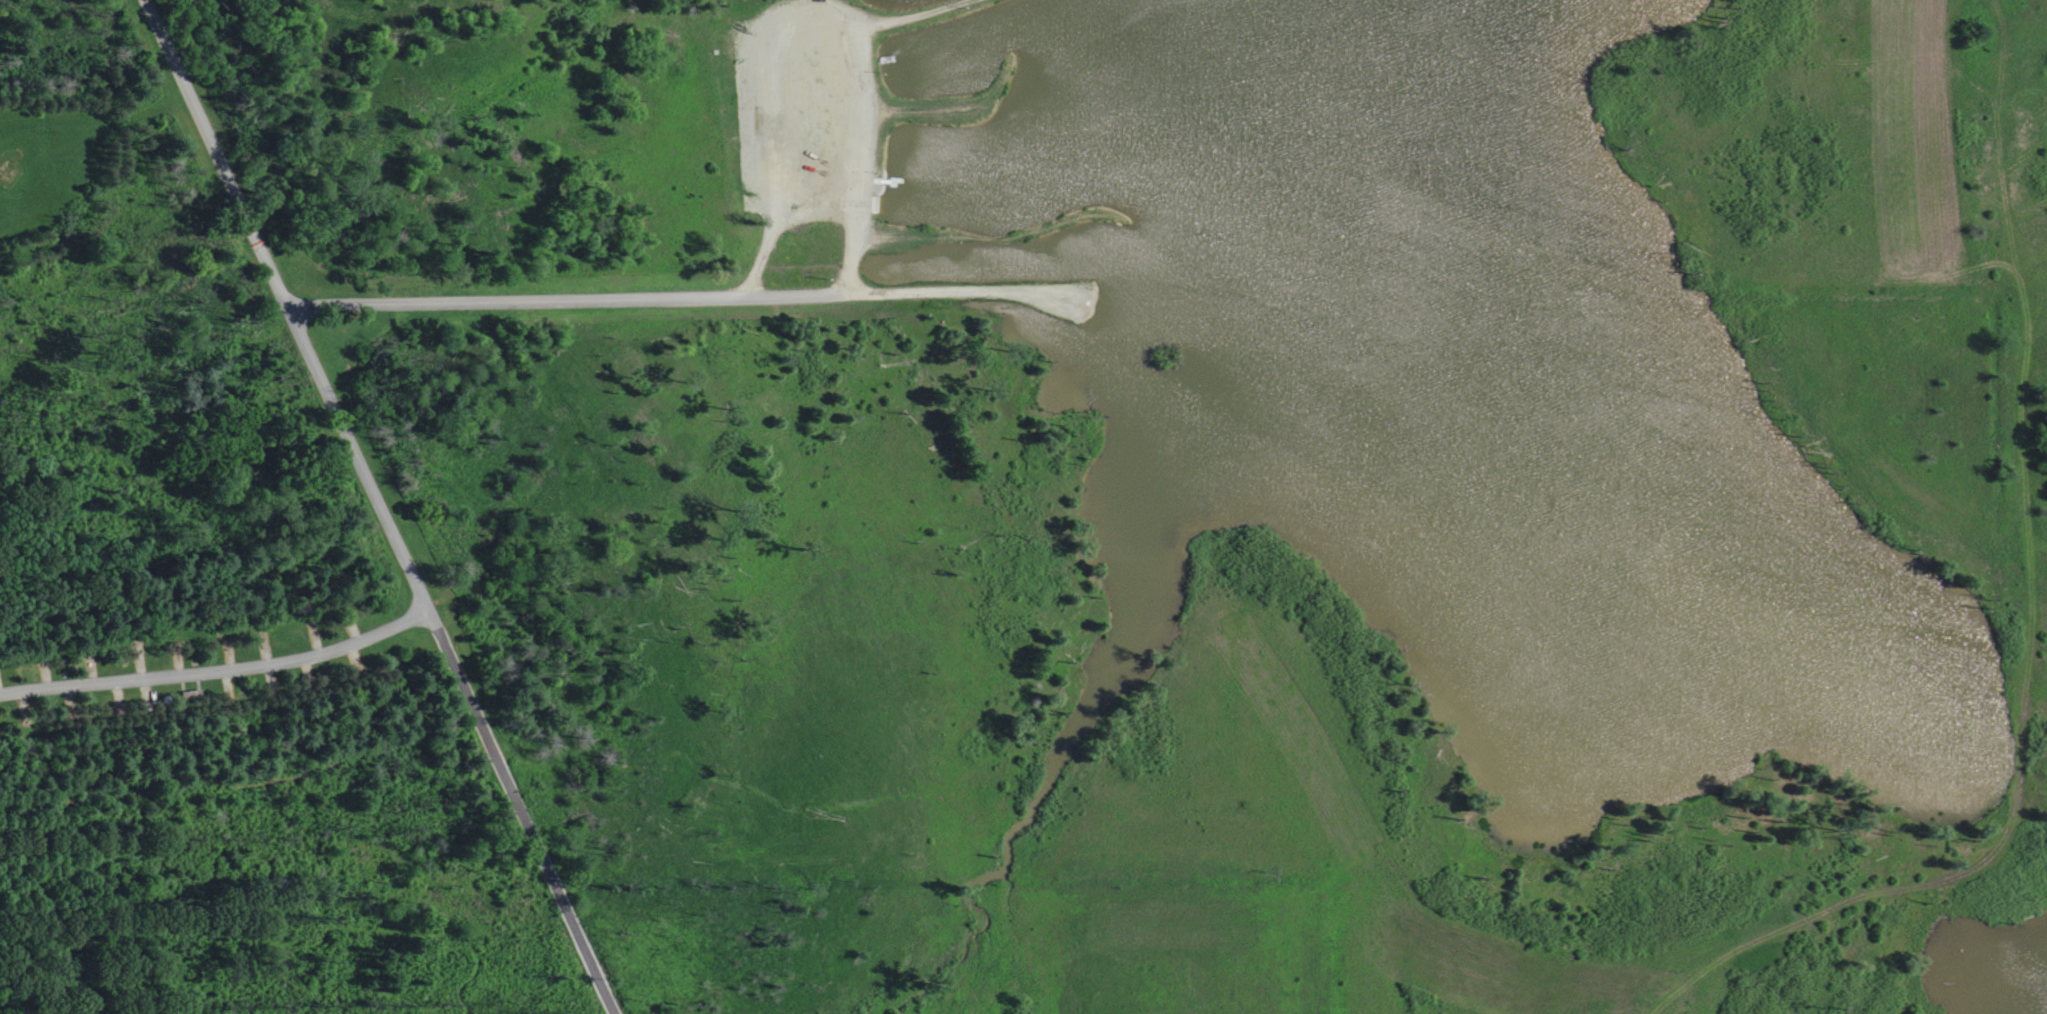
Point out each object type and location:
road: (898, 17)
road: (804, 29)
parking lot: (806, 111)
road: (141, 112)
pier: (888, 180)
road: (1957, 270)
road: (565, 298)
road: (2037, 303)
road: (283, 307)
road: (2036, 324)
road: (1932, 498)
road: (2039, 553)
road: (2031, 623)
road: (217, 670)
road: (519, 813)

